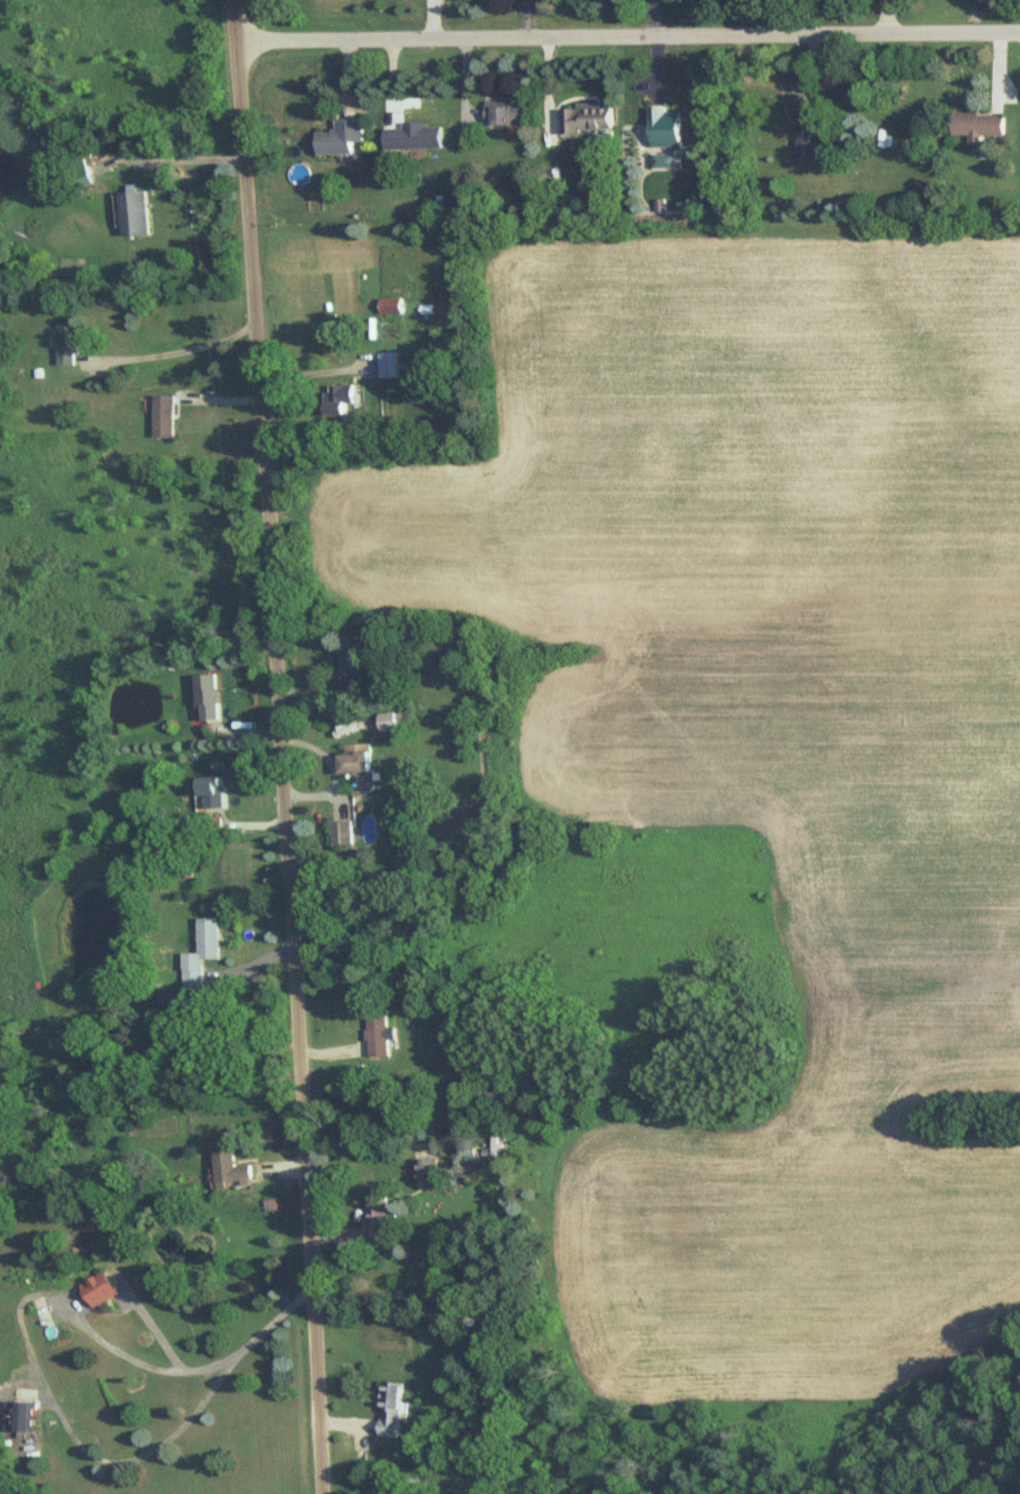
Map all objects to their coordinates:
road: (628, 33)
building: (507, 115)
building: (591, 120)
building: (982, 127)
building: (669, 129)
building: (812, 133)
building: (343, 139)
road: (190, 149)
building: (137, 215)
building: (393, 306)
road: (177, 341)
building: (71, 344)
building: (389, 365)
road: (316, 374)
building: (342, 400)
building: (167, 417)
building: (354, 668)
building: (211, 697)
building: (391, 722)
road: (285, 746)
building: (361, 762)
building: (217, 793)
building: (347, 833)
building: (212, 939)
building: (194, 978)
building: (170, 1002)
building: (382, 1036)
building: (491, 1147)
building: (234, 1166)
building: (426, 1173)
building: (382, 1217)
building: (105, 1289)
road: (135, 1361)
building: (393, 1410)
building: (19, 1421)
road: (172, 1437)

